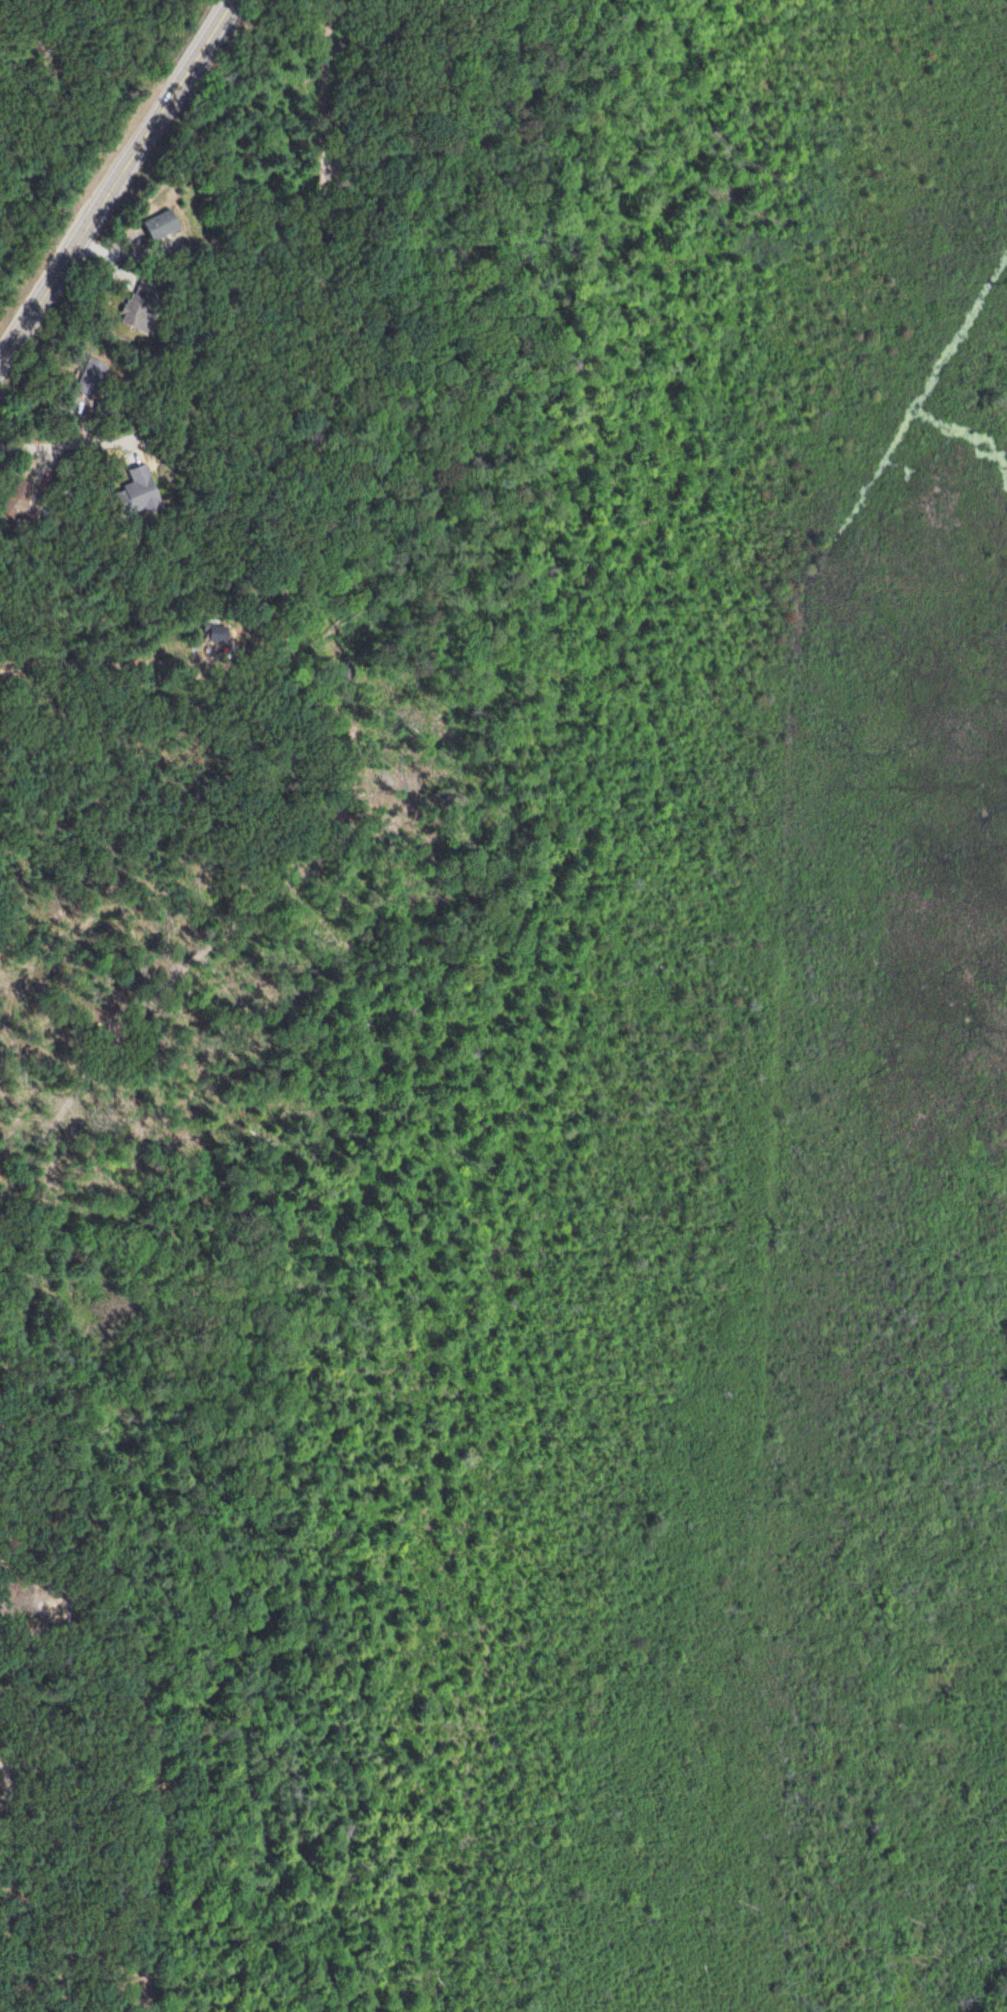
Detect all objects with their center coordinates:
road: (114, 179)
building: (155, 225)
road: (24, 268)
building: (133, 311)
building: (91, 374)
building: (138, 495)

